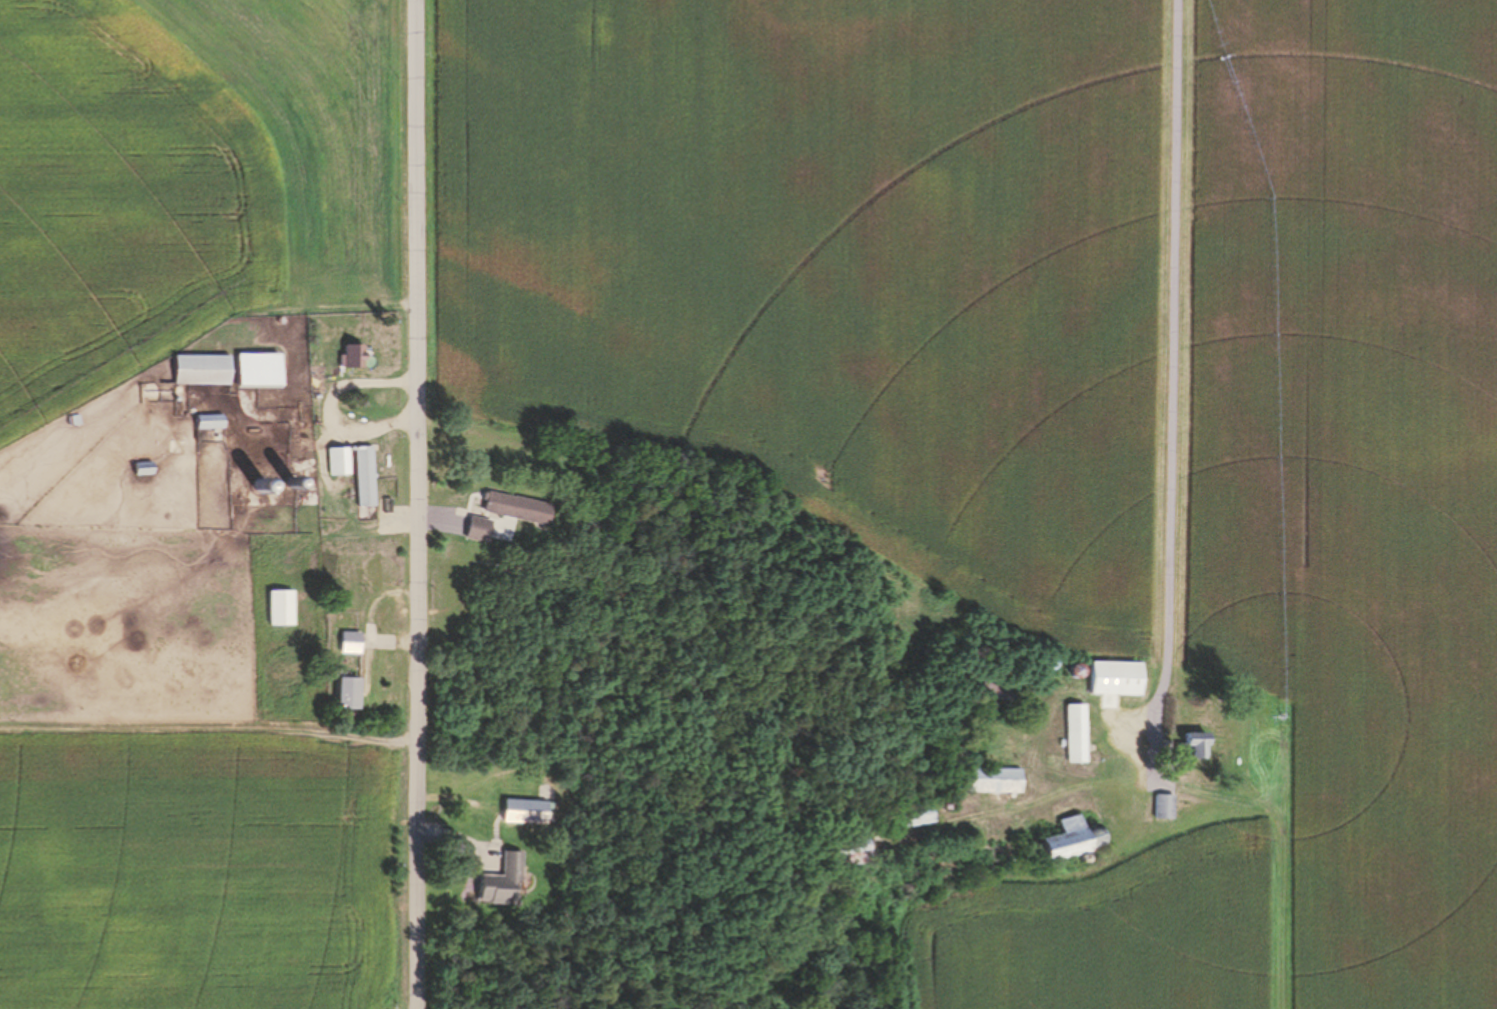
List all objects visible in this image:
crop: (176, 202)
crop: (813, 268)
building: (281, 322)
building: (353, 358)
building: (202, 370)
building: (259, 371)
road: (1174, 371)
building: (176, 401)
building: (180, 410)
building: (74, 421)
building: (210, 423)
building: (218, 432)
building: (218, 438)
building: (339, 462)
building: (144, 469)
building: (365, 476)
building: (292, 483)
building: (261, 486)
road: (418, 504)
building: (516, 509)
building: (476, 530)
building: (514, 564)
building: (281, 609)
building: (350, 643)
building: (971, 661)
building: (1049, 663)
building: (981, 665)
building: (1077, 671)
building: (1116, 679)
building: (998, 692)
building: (347, 694)
building: (1076, 733)
building: (1192, 747)
building: (993, 781)
building: (946, 806)
building: (1163, 808)
building: (530, 812)
building: (916, 817)
building: (1073, 842)
building: (847, 853)
crop: (194, 878)
building: (502, 881)
crop: (1080, 943)

